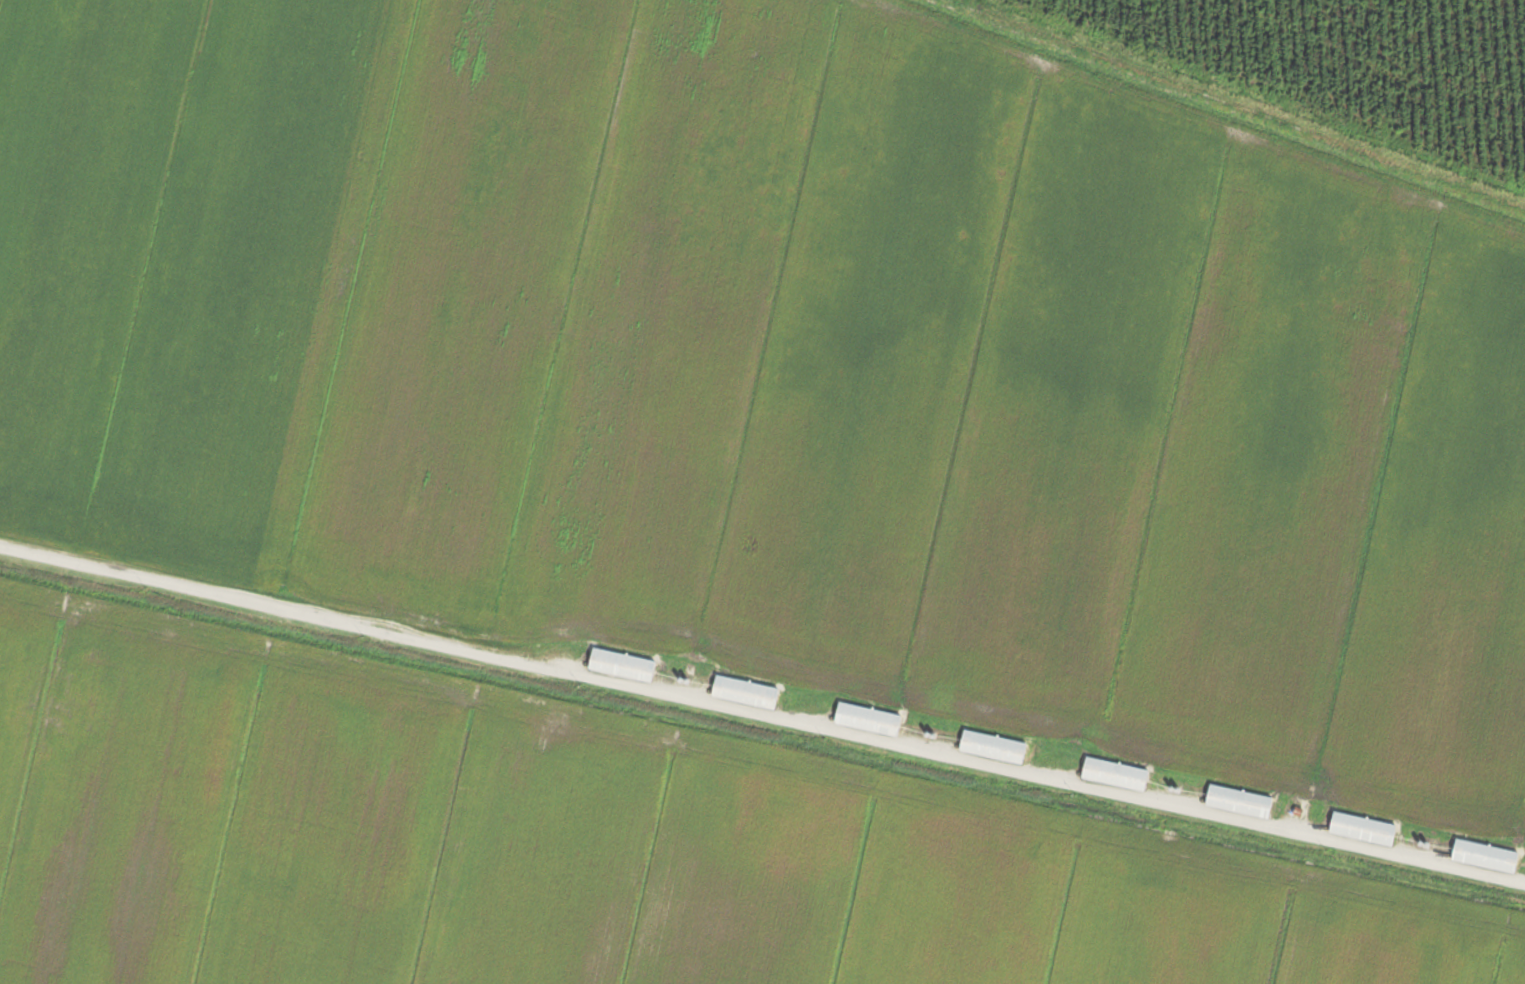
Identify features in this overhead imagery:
building: (618, 665)
building: (741, 692)
road: (762, 717)
building: (864, 719)
building: (989, 746)
building: (1111, 774)
building: (1235, 801)
building: (1359, 829)
building: (1481, 856)

